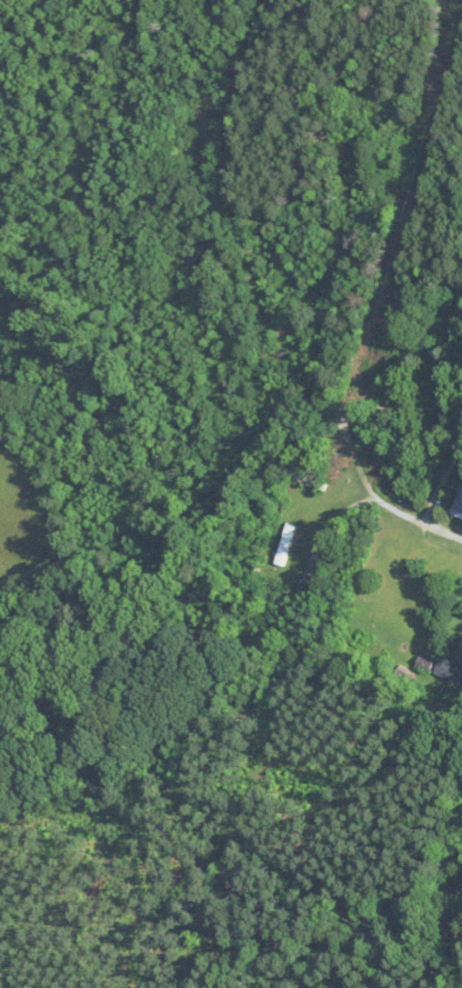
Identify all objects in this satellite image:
road: (264, 304)
building: (432, 351)
building: (402, 389)
building: (385, 408)
building: (311, 481)
building: (458, 508)
building: (287, 541)
building: (426, 664)
building: (450, 670)

